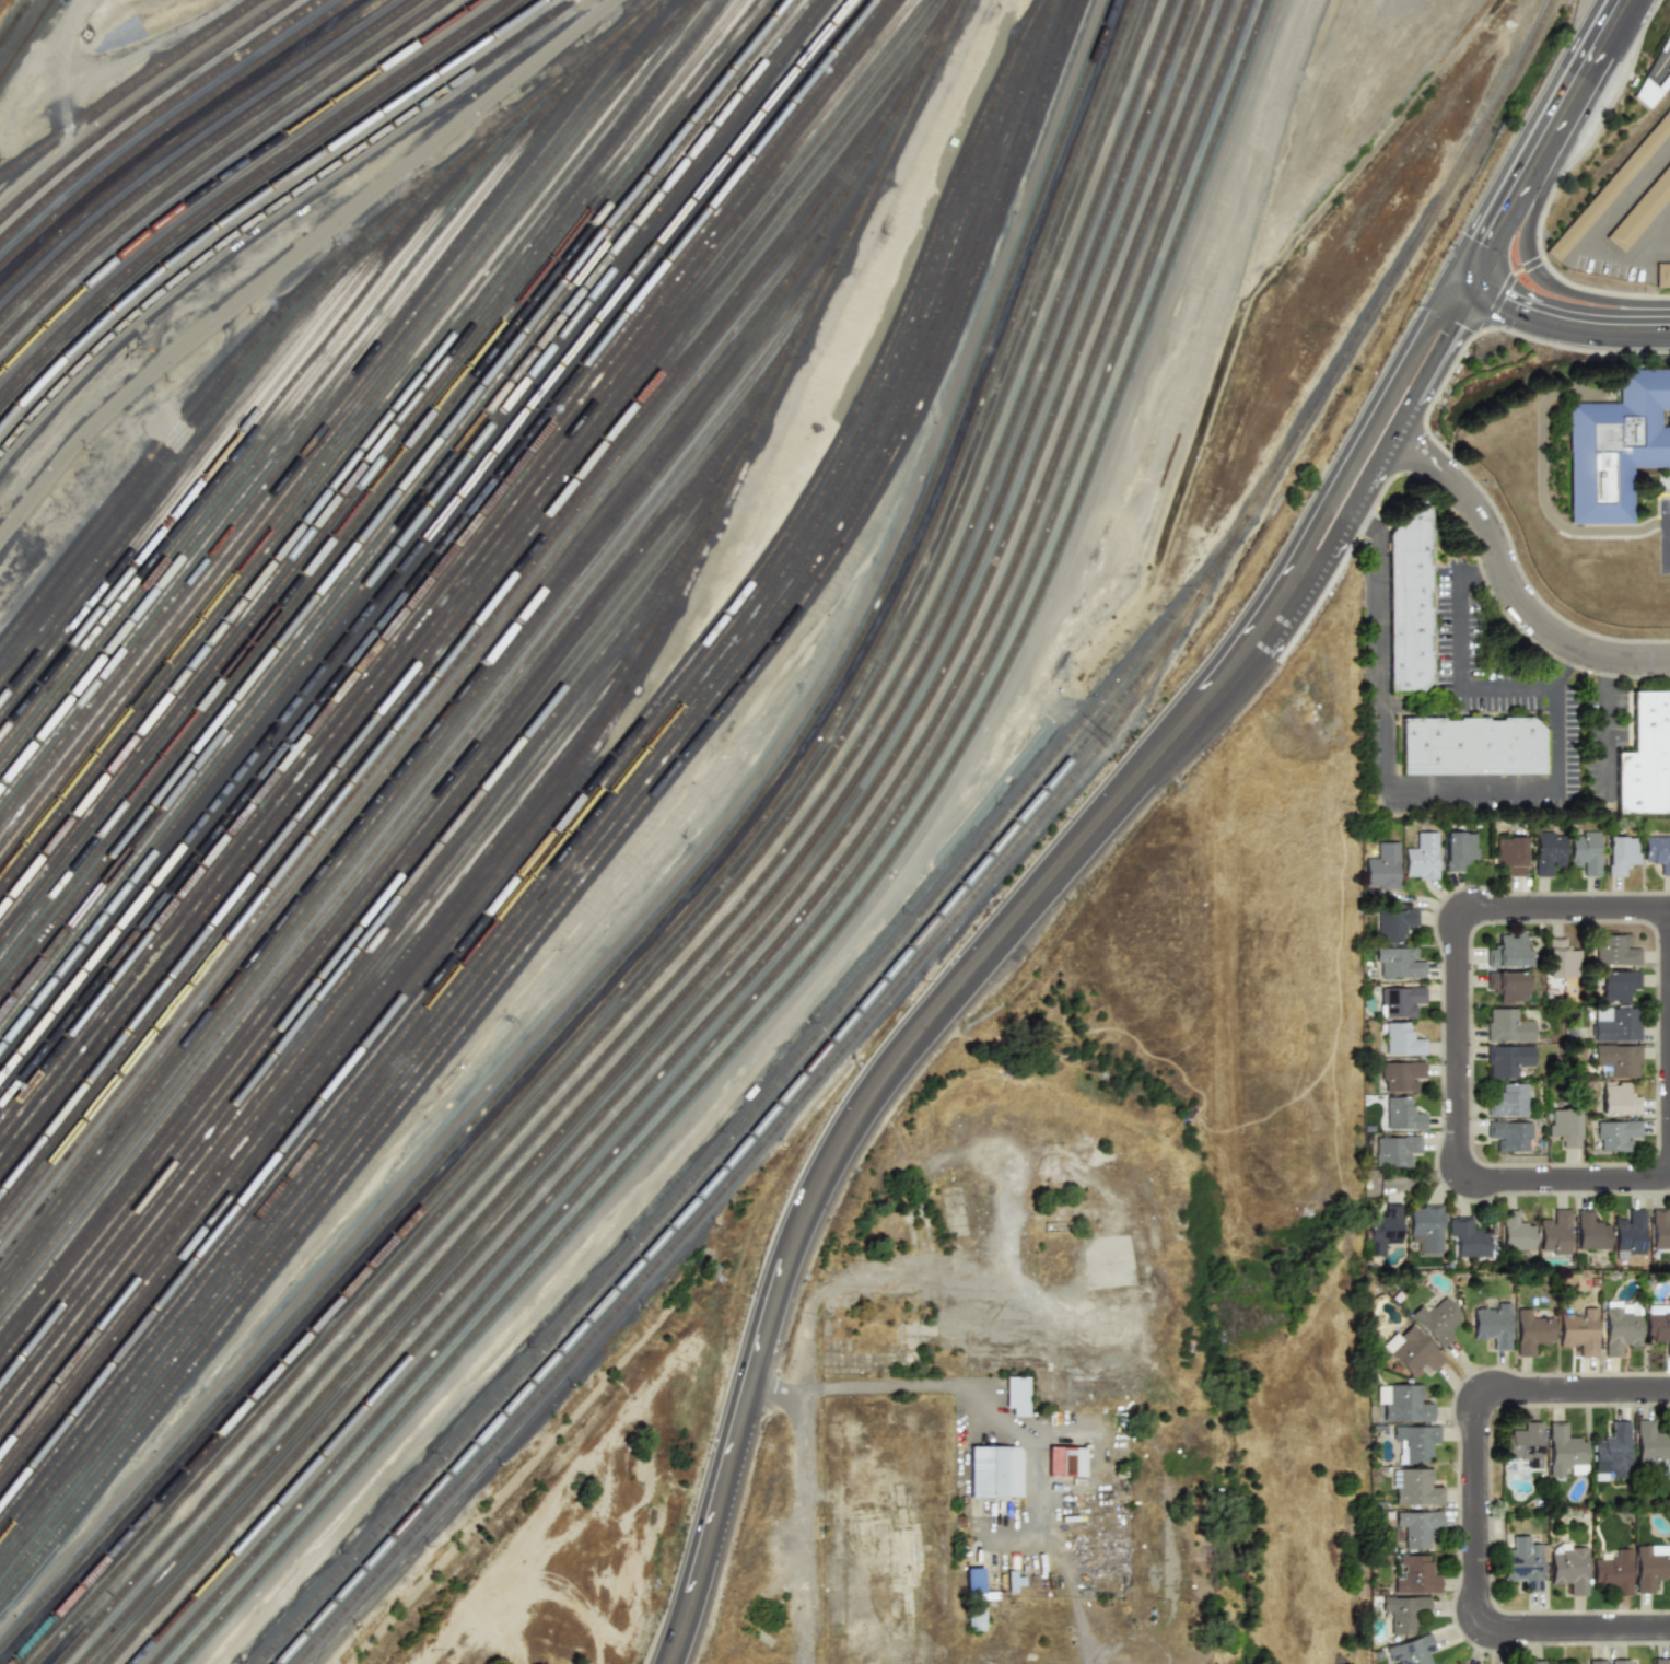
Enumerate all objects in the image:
railway: (16, 22)
railway: (26, 40)
building: (1665, 42)
railway: (1, 46)
railway: (1, 46)
road: (139, 58)
road: (192, 65)
railway: (129, 89)
building: (1649, 91)
railway: (154, 115)
railway: (171, 126)
railway: (185, 137)
road: (1546, 139)
railway: (199, 149)
railway: (214, 161)
railway: (229, 173)
railway: (243, 184)
road: (1555, 185)
building: (1611, 195)
road: (1628, 195)
railway: (258, 196)
railway: (273, 207)
building: (1643, 219)
road: (1650, 244)
traffic signals: (1488, 248)
road: (296, 258)
road: (1605, 260)
road: (1535, 270)
building: (1665, 280)
road: (1505, 287)
railway: (300, 294)
traffic signals: (1514, 303)
road: (1566, 318)
traffic signals: (1458, 323)
railway: (308, 396)
railway: (327, 406)
railway: (268, 412)
road: (1374, 414)
railway: (342, 423)
railway: (232, 424)
railway: (326, 426)
road: (1397, 428)
railway: (195, 435)
railway: (284, 443)
road: (1438, 444)
building: (1616, 444)
railway: (351, 445)
railway: (336, 447)
road: (1411, 449)
railway: (250, 452)
railway: (359, 454)
railway: (365, 463)
railway: (213, 464)
road: (1434, 467)
railway: (372, 472)
railway: (379, 479)
railway: (173, 481)
railway: (386, 488)
railway: (137, 493)
railway: (393, 498)
railway: (399, 507)
railway: (407, 514)
railway: (413, 523)
railway: (424, 537)
railway: (436, 552)
railway: (443, 561)
railway: (449, 570)
road: (1476, 570)
railway: (457, 578)
railway: (464, 586)
railway: (470, 595)
road: (1492, 596)
building: (1410, 601)
railway: (477, 605)
railway: (481, 616)
road: (1541, 622)
railway: (456, 666)
railway: (497, 666)
road: (1457, 672)
railway: (436, 707)
road: (1602, 726)
building: (1471, 746)
building: (1646, 757)
railway: (409, 758)
railway: (448, 760)
railway: (412, 790)
road: (1395, 791)
railway: (554, 798)
railway: (585, 808)
railway: (592, 817)
railway: (560, 822)
railway: (597, 828)
railway: (420, 833)
railway: (604, 837)
railway: (611, 846)
building: (1459, 849)
railway: (392, 850)
building: (1548, 851)
building: (1585, 851)
building: (1657, 852)
building: (1621, 853)
building: (1510, 854)
building: (1421, 856)
building: (1382, 866)
railway: (990, 877)
railway: (399, 893)
road: (1587, 893)
railway: (675, 900)
railway: (692, 907)
railway: (715, 908)
railway: (738, 909)
railway: (761, 909)
railway: (783, 910)
railway: (371, 911)
railway: (806, 911)
railway: (829, 911)
railway: (851, 911)
building: (1394, 923)
building: (1614, 950)
building: (1508, 951)
railway: (377, 955)
building: (1563, 961)
building: (1399, 964)
railway: (351, 970)
building: (1507, 985)
building: (1616, 985)
building: (1400, 1001)
railway: (359, 1013)
building: (1614, 1024)
railway: (336, 1025)
building: (1508, 1025)
building: (1400, 1038)
road: (1456, 1043)
building: (1616, 1059)
road: (886, 1060)
building: (1508, 1060)
building: (1400, 1075)
railway: (322, 1078)
railway: (763, 1098)
building: (1618, 1098)
building: (1508, 1099)
building: (1403, 1113)
building: (1564, 1125)
building: (1615, 1133)
building: (1510, 1134)
railway: (748, 1138)
building: (1395, 1150)
building: (1425, 1226)
building: (1383, 1230)
building: (1590, 1230)
building: (1517, 1231)
building: (1659, 1231)
building: (1555, 1232)
building: (1630, 1232)
building: (1468, 1237)
building: (1436, 1319)
building: (1492, 1323)
building: (1659, 1324)
building: (1619, 1329)
building: (1531, 1331)
building: (1579, 1331)
building: (1412, 1351)
road: (953, 1385)
road: (1576, 1390)
building: (1015, 1396)
building: (1402, 1403)
building: (1415, 1441)
building: (1525, 1443)
building: (1651, 1443)
building: (1564, 1448)
building: (1612, 1450)
building: (1067, 1462)
building: (994, 1471)
building: (1415, 1487)
road: (1029, 1503)
building: (1418, 1526)
road: (802, 1528)
road: (1054, 1528)
building: (1522, 1561)
building: (1569, 1567)
building: (1649, 1569)
building: (1613, 1572)
building: (1414, 1574)
building: (973, 1581)
building: (1015, 1581)
road: (1480, 1601)
building: (1404, 1611)
building: (976, 1617)
building: (1411, 1650)
building: (1593, 1661)
building: (1622, 1661)
building: (1661, 1661)
building: (1537, 1662)

